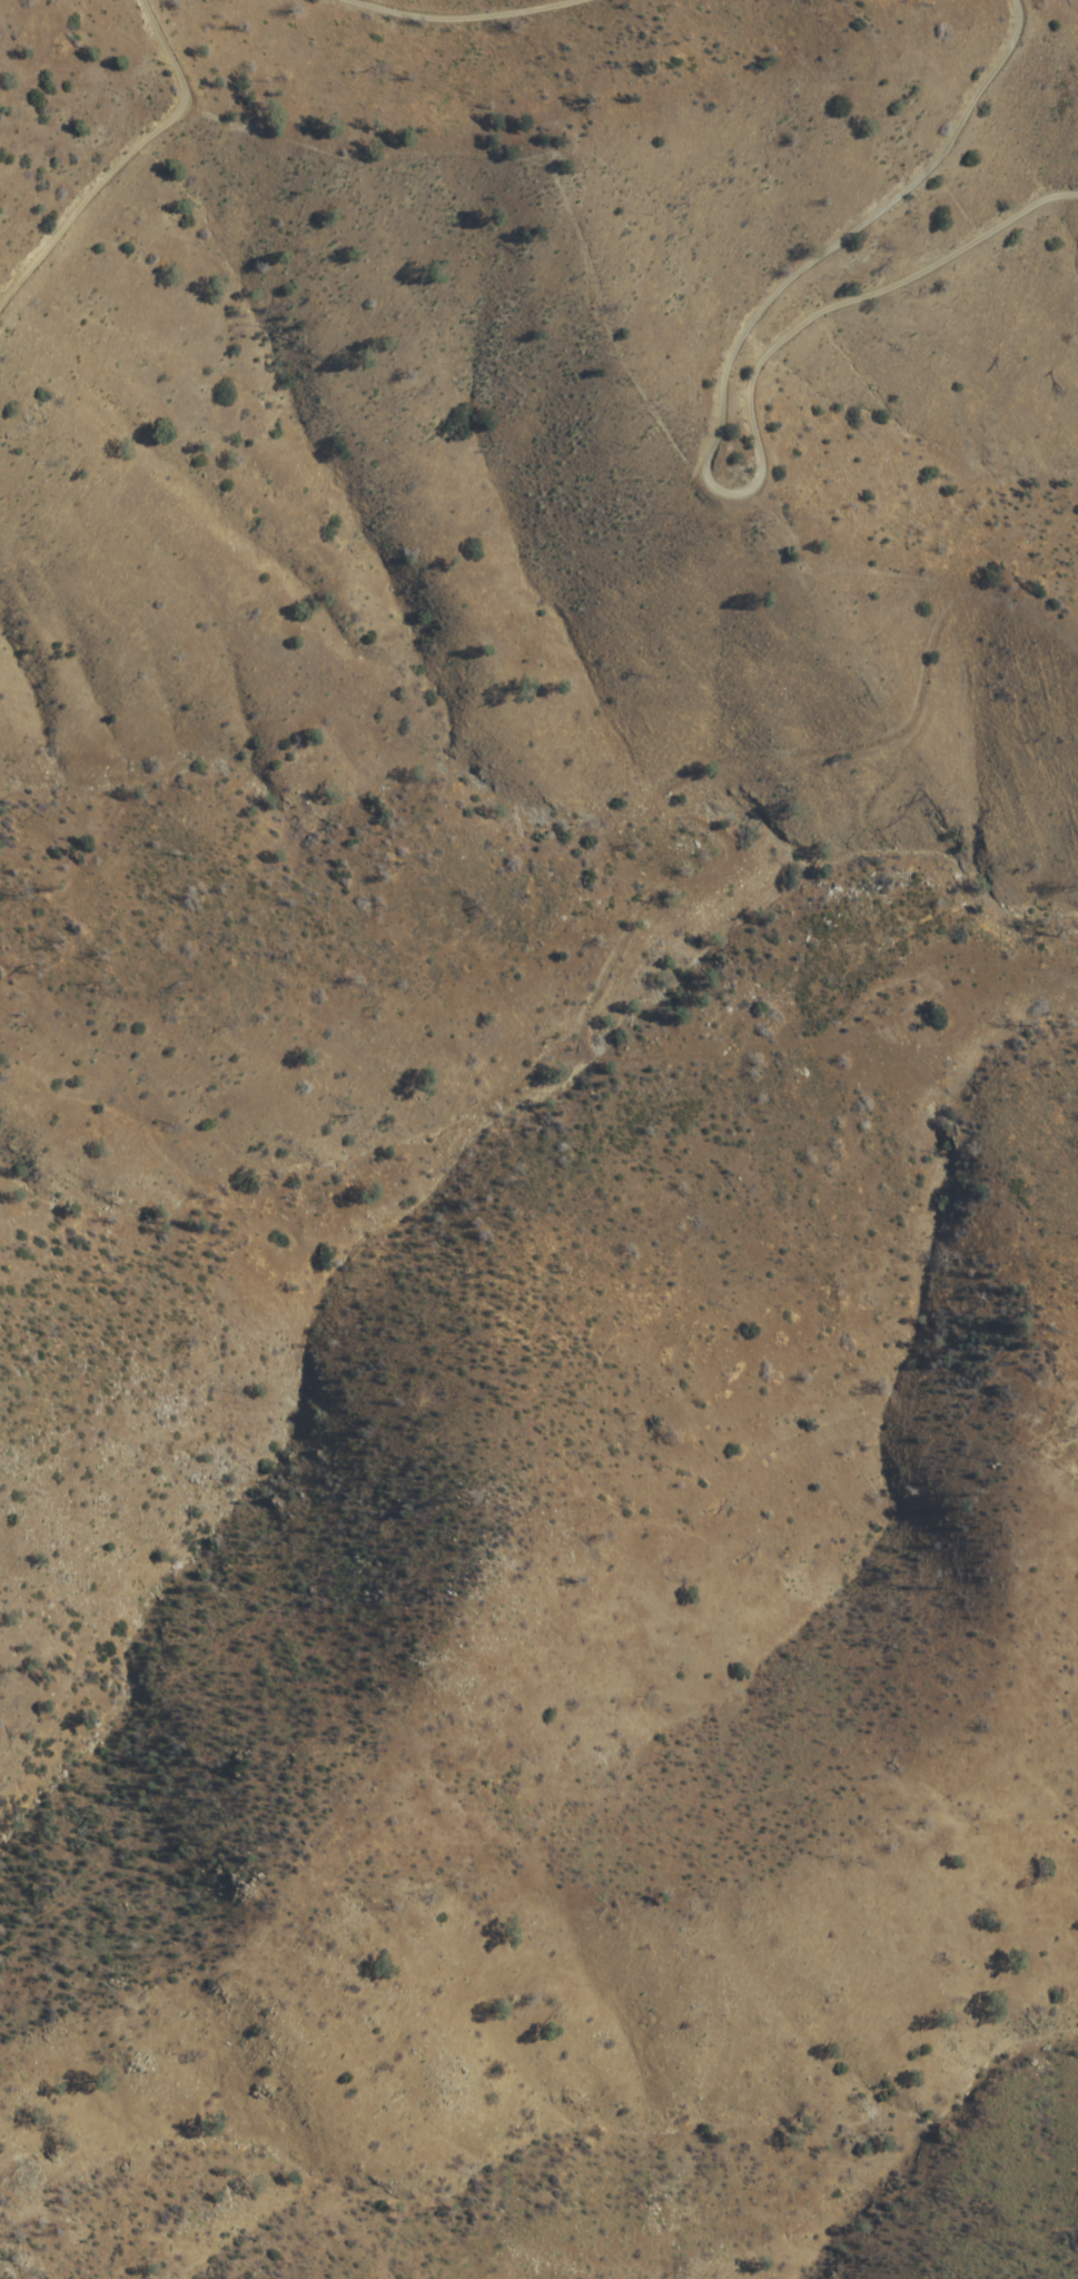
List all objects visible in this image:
road: (464, 16)
road: (125, 161)
road: (709, 455)

